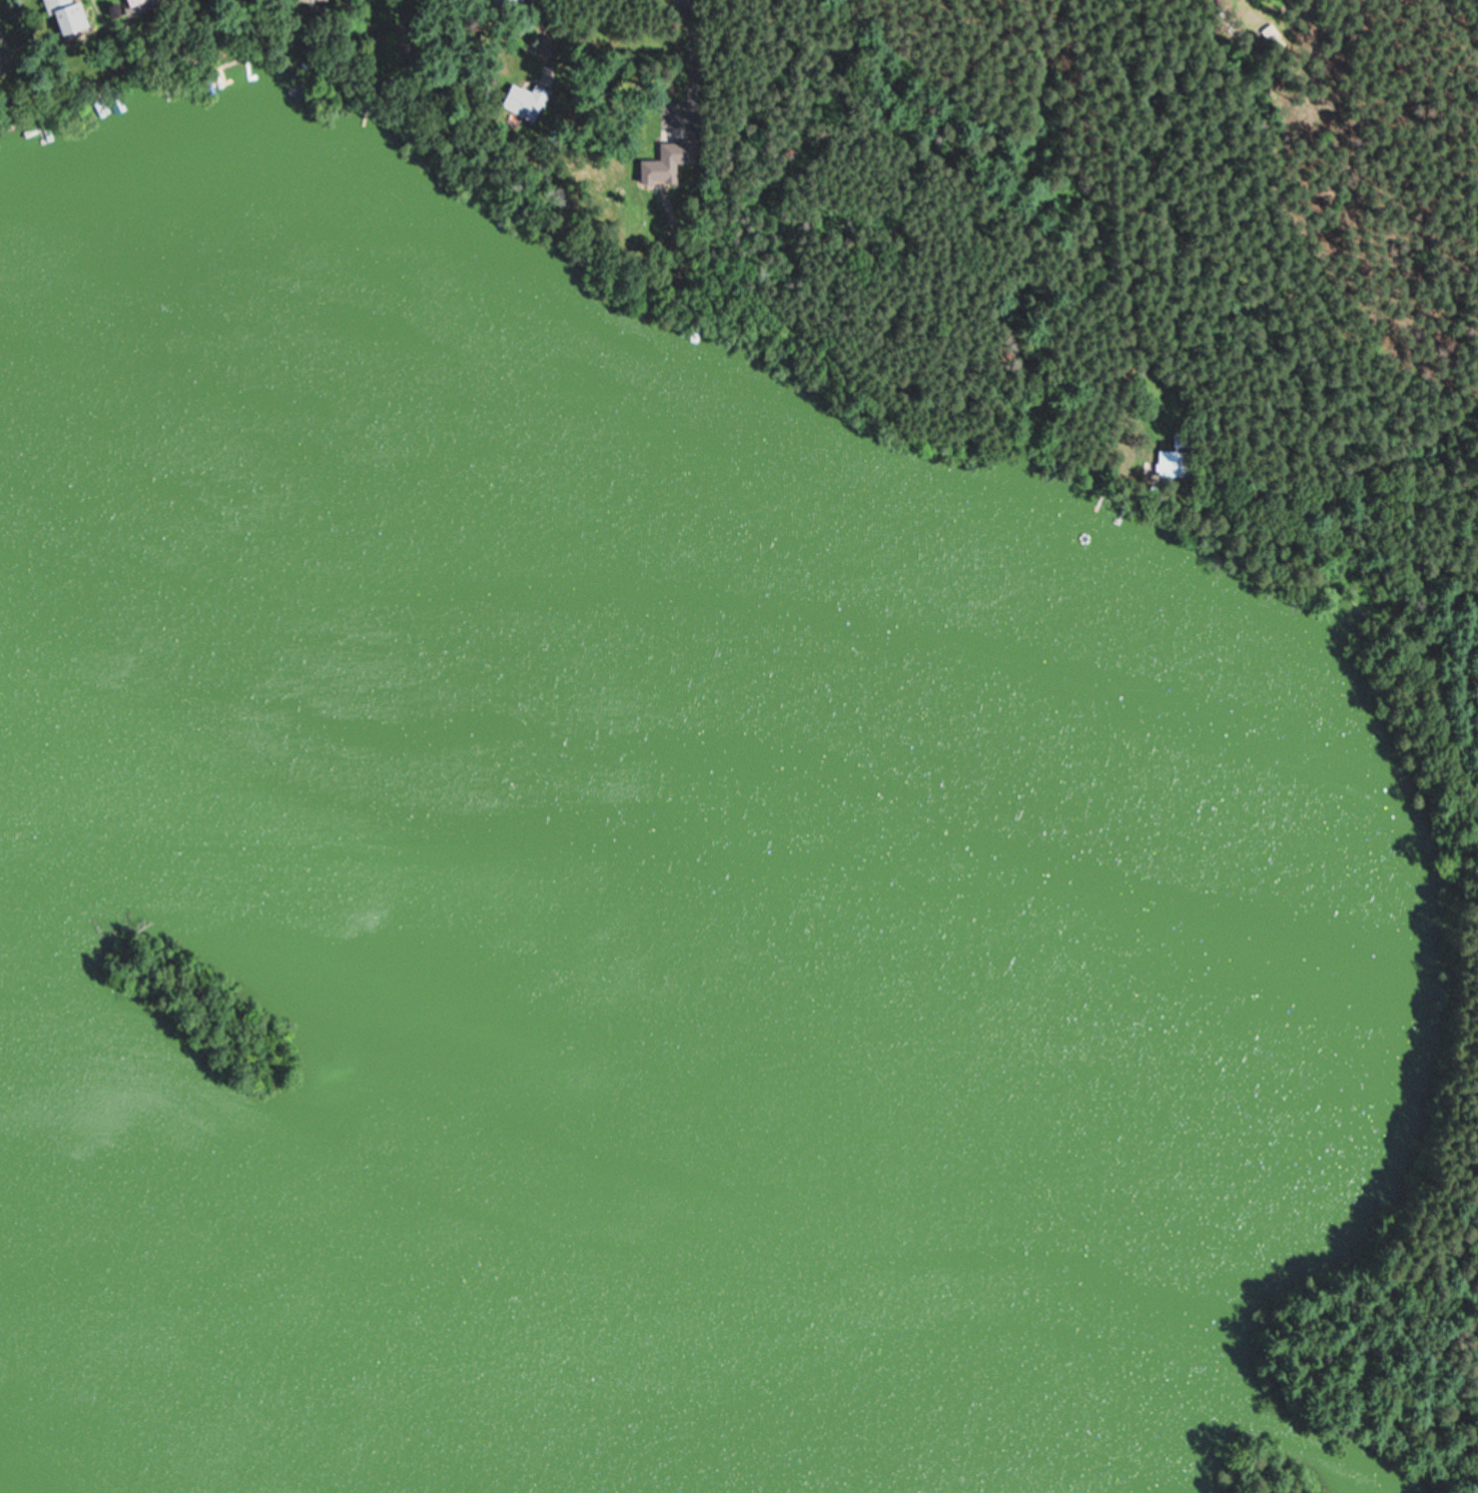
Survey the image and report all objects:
building: (124, 1)
building: (310, 1)
building: (60, 14)
building: (520, 100)
building: (665, 161)
road: (1154, 358)
building: (1168, 463)

